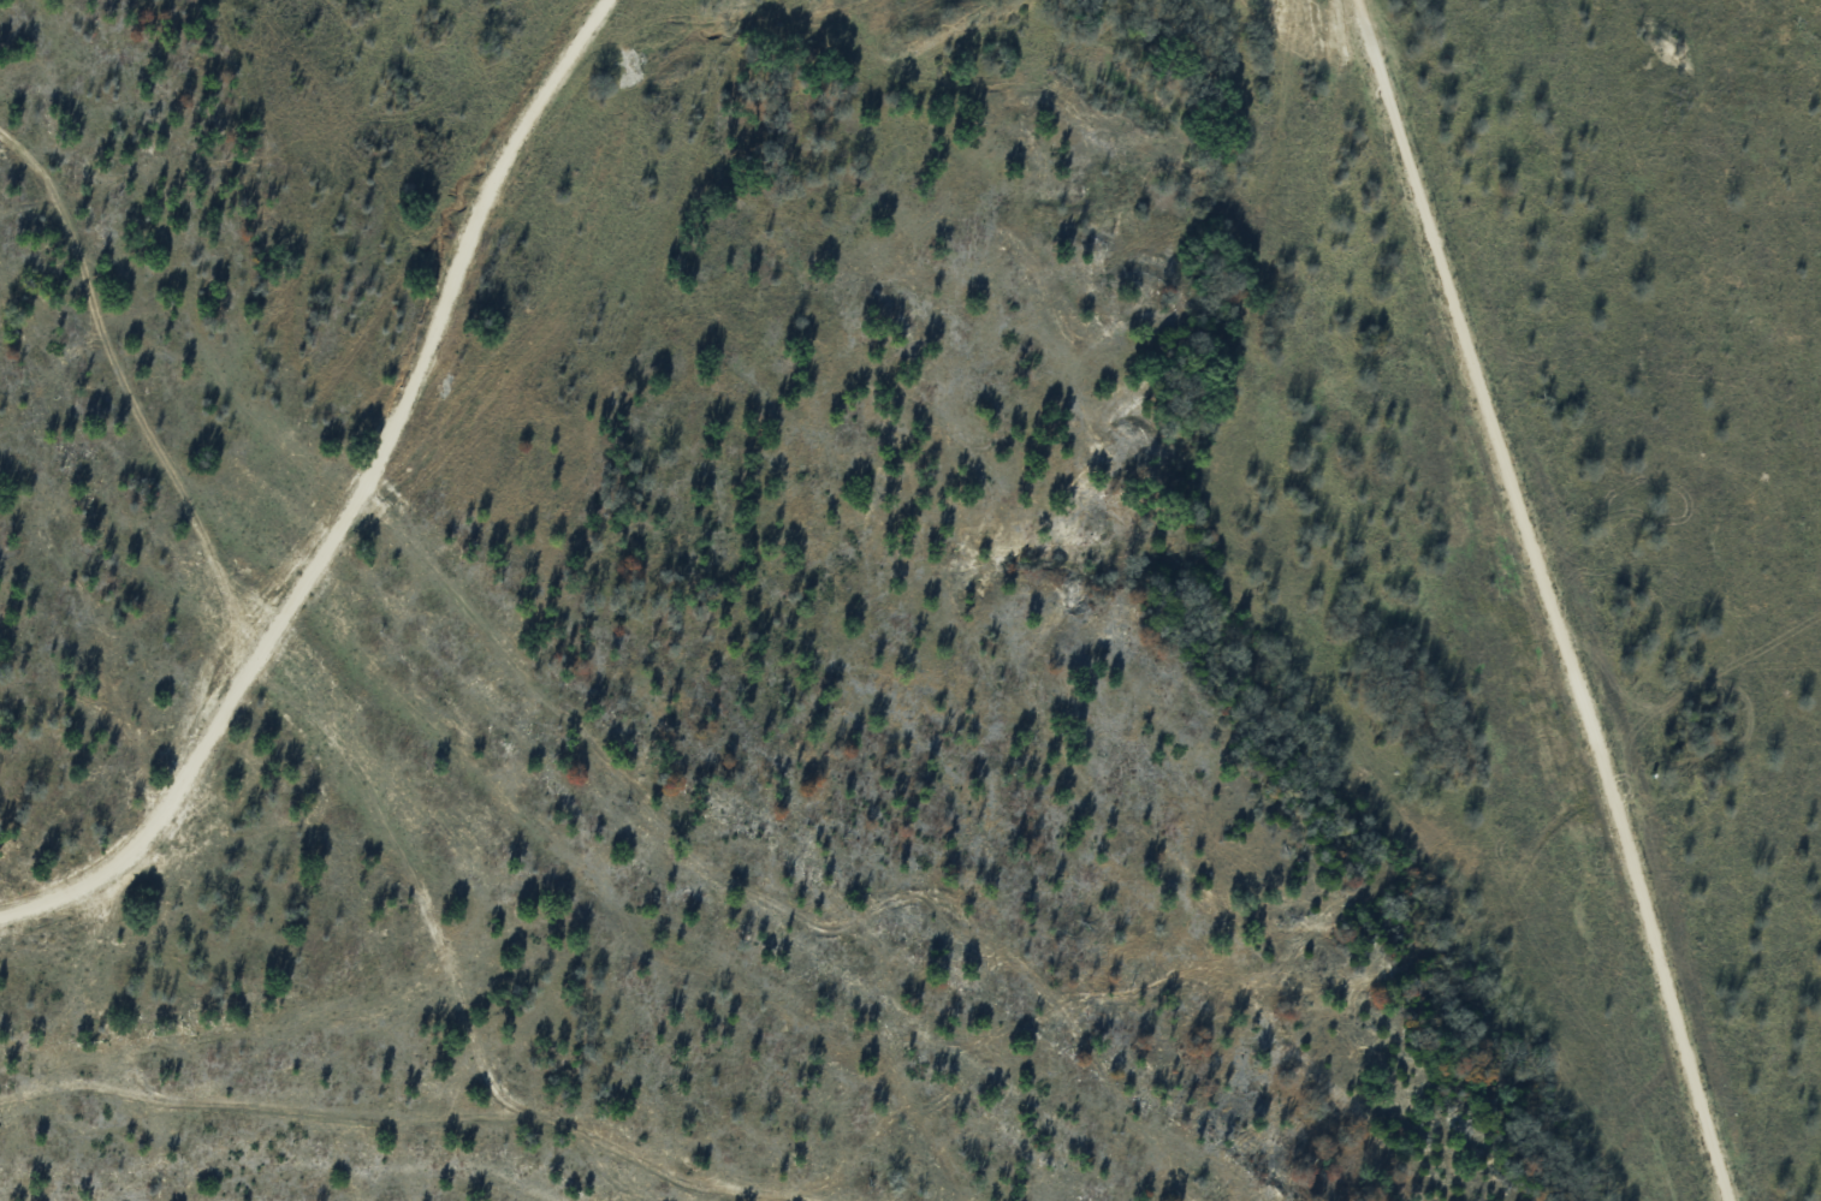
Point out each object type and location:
road: (352, 503)
road: (1554, 599)

